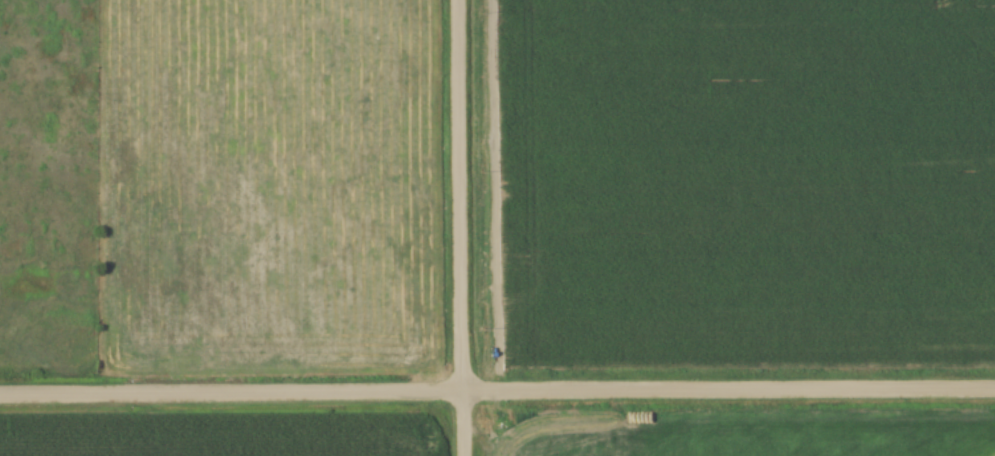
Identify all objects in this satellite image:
road: (455, 228)
road: (497, 392)

